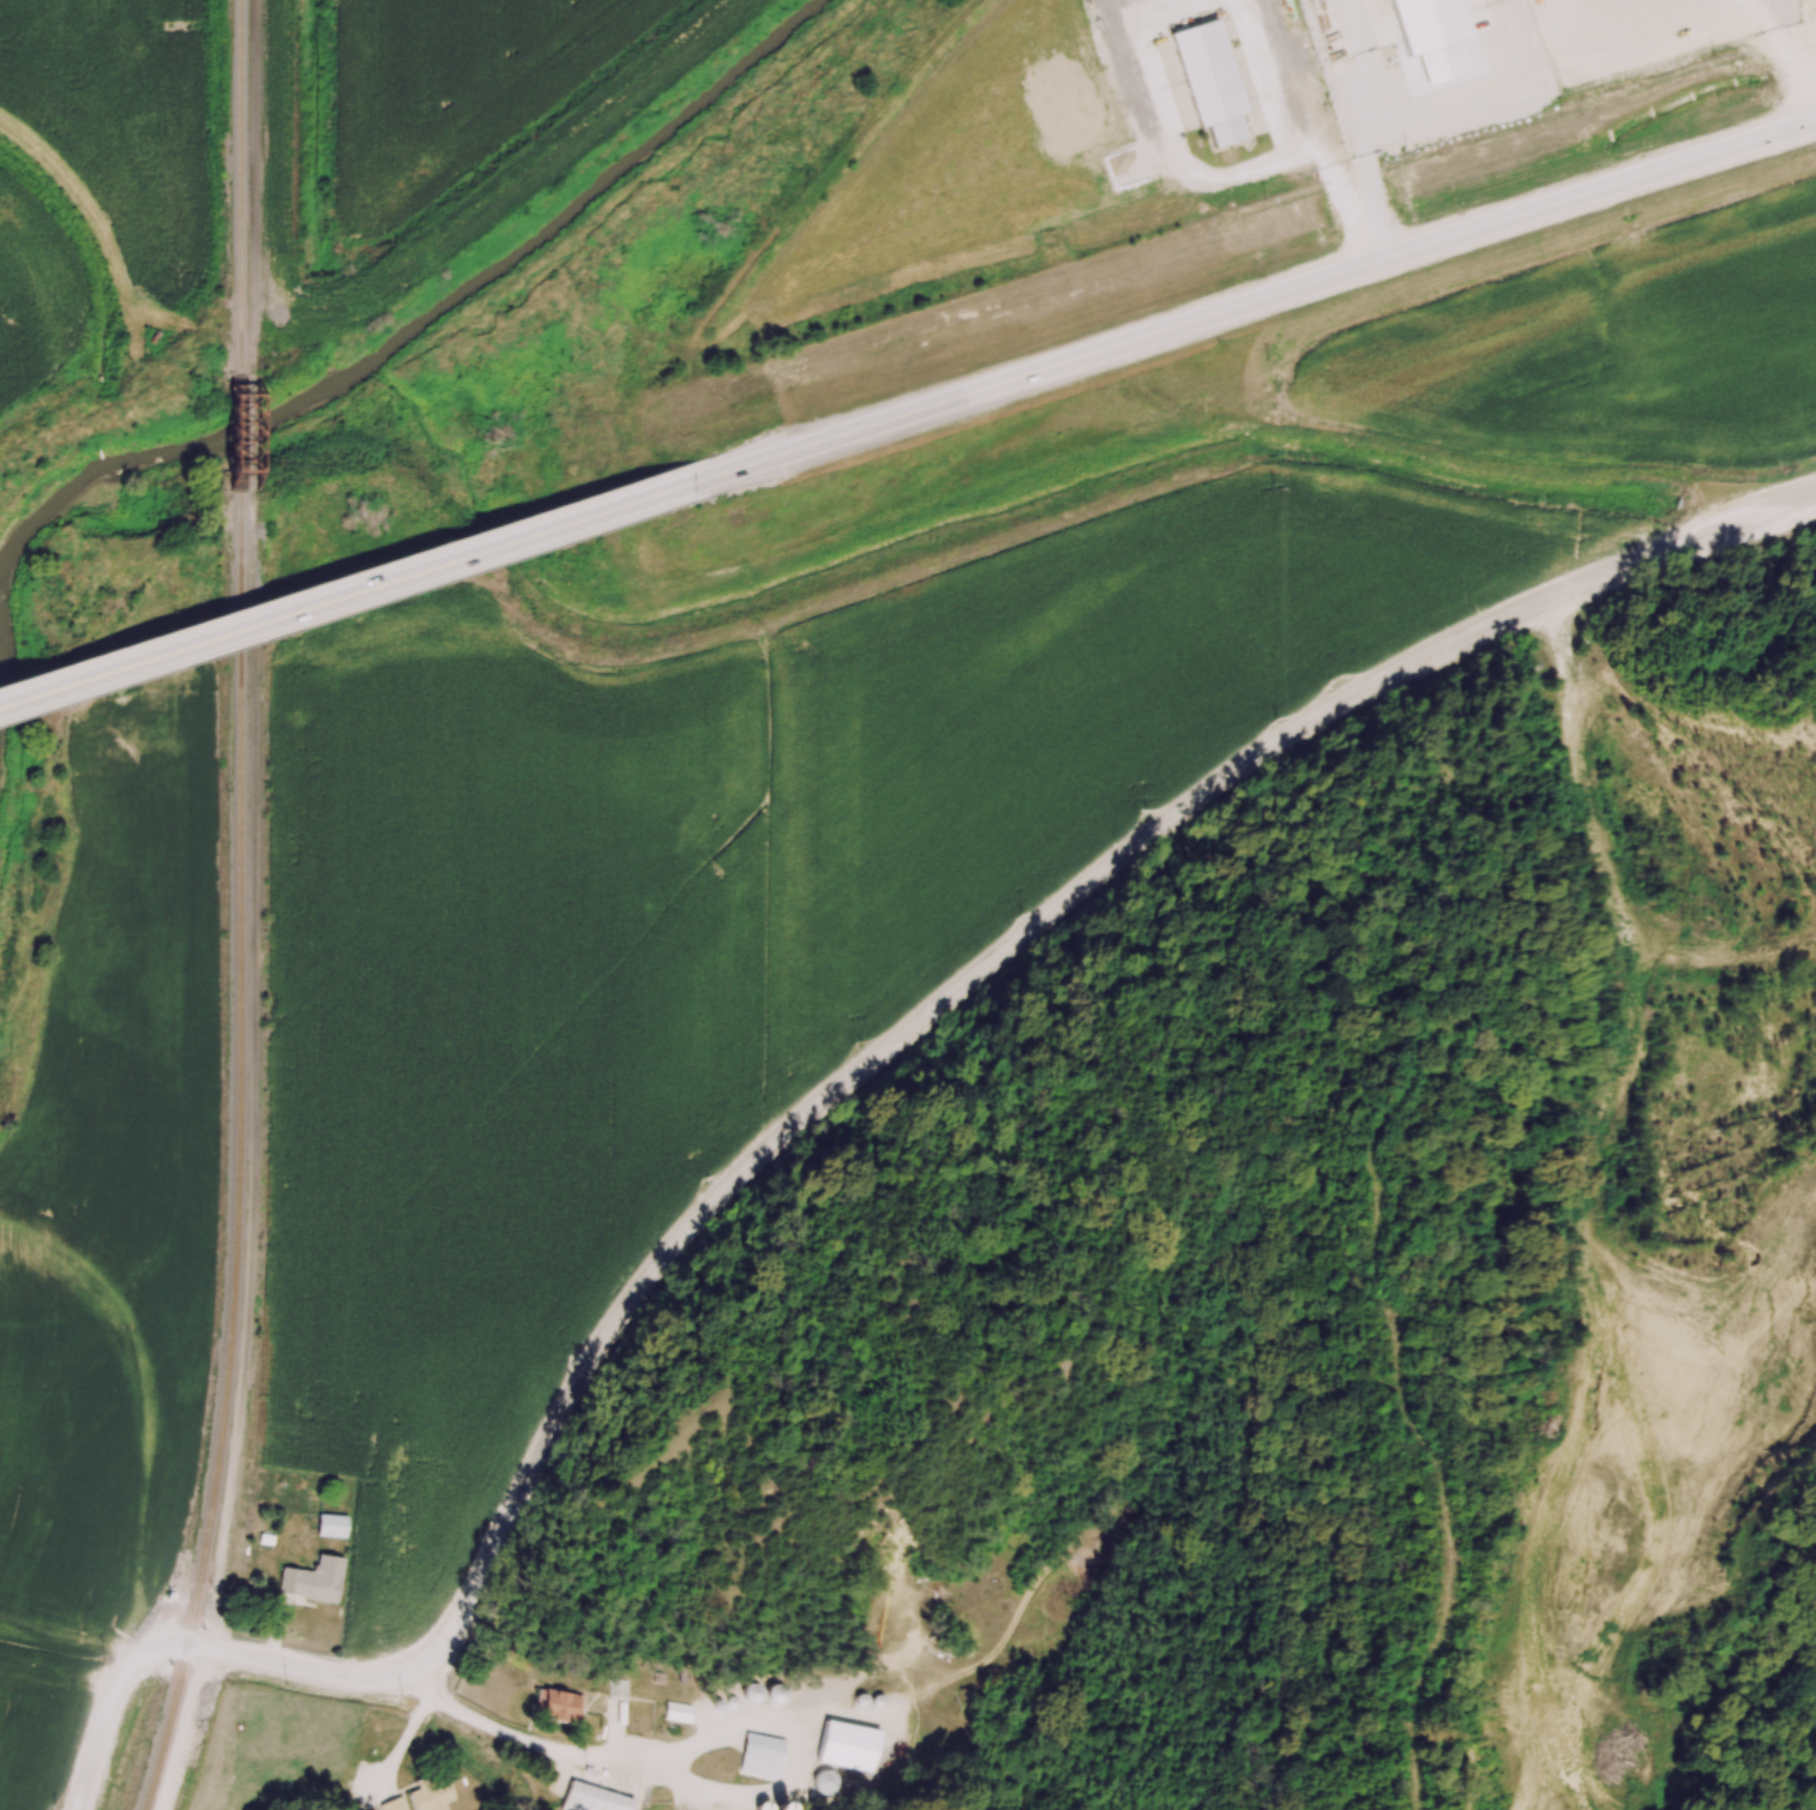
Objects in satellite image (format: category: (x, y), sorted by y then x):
road: (1360, 64)
road: (1263, 76)
road: (1415, 114)
road: (1168, 124)
railway: (239, 185)
road: (1339, 188)
road: (1250, 299)
river: (390, 353)
railway: (239, 423)
road: (342, 594)
road: (832, 1100)
railway: (231, 1148)
building: (330, 1528)
building: (312, 1583)
building: (618, 1691)
building: (557, 1707)
building: (677, 1714)
road: (533, 1743)
building: (847, 1752)
building: (759, 1757)
building: (825, 1784)
building: (431, 1794)
building: (591, 1799)
building: (395, 1804)

